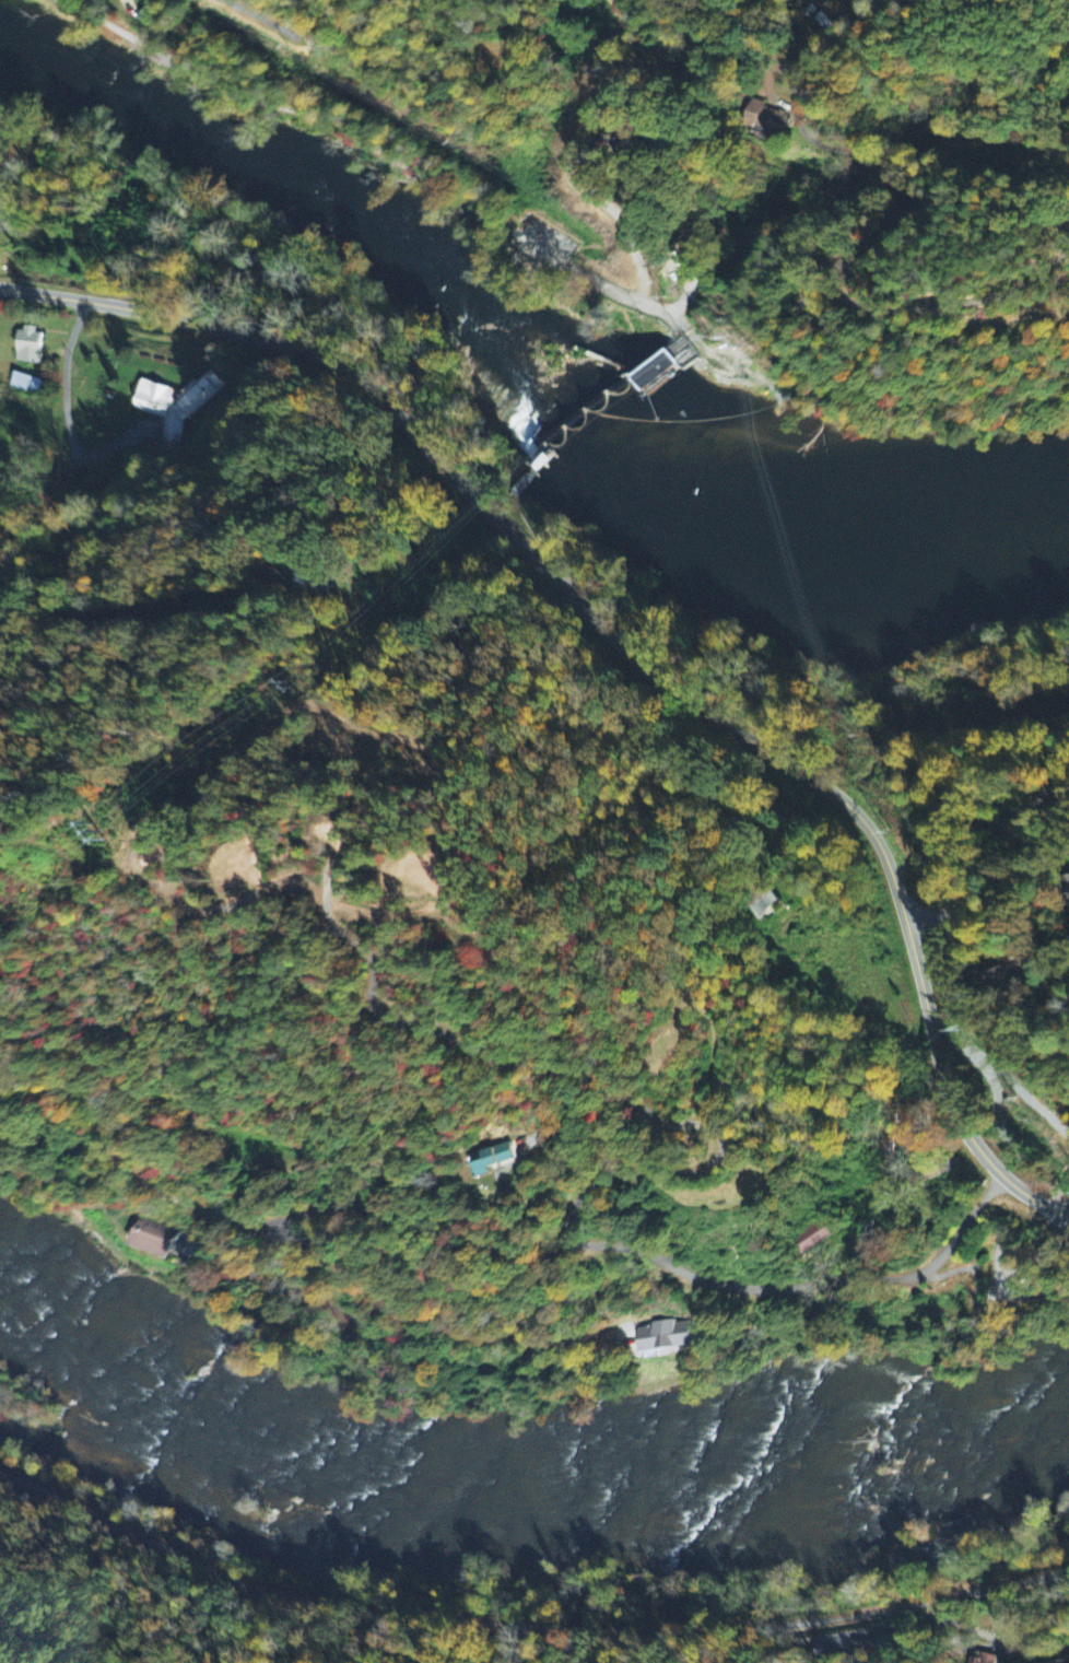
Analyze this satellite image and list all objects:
river: (14, 40)
building: (764, 117)
road: (369, 145)
road: (572, 156)
road: (874, 227)
road: (520, 242)
road: (512, 257)
road: (505, 268)
road: (968, 316)
river: (542, 329)
building: (25, 346)
dam: (649, 356)
dam: (611, 364)
building: (656, 367)
building: (22, 384)
power tower: (770, 387)
building: (174, 405)
dam: (577, 423)
power tower: (462, 537)
road: (625, 653)
power tower: (290, 678)
power tower: (850, 699)
power tower: (891, 819)
power tower: (87, 827)
road: (992, 864)
building: (1067, 888)
power tower: (951, 996)
power tower: (1020, 1096)
building: (486, 1160)
building: (945, 1168)
road: (212, 1208)
building: (811, 1238)
building: (150, 1239)
road: (543, 1254)
building: (660, 1336)
river: (226, 1403)
river: (784, 1451)
railway: (525, 1620)
road: (988, 1644)
building: (978, 1659)

